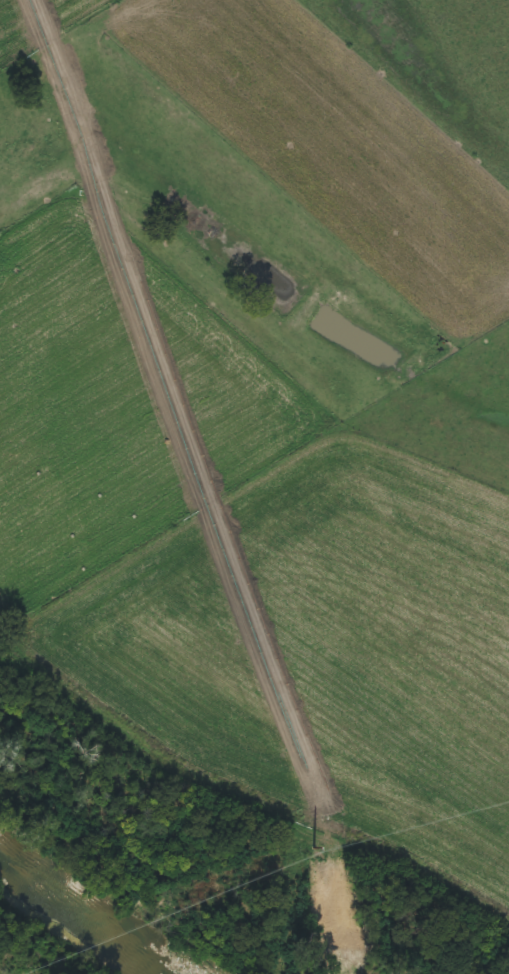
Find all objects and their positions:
power tower: (313, 848)
river: (73, 915)

